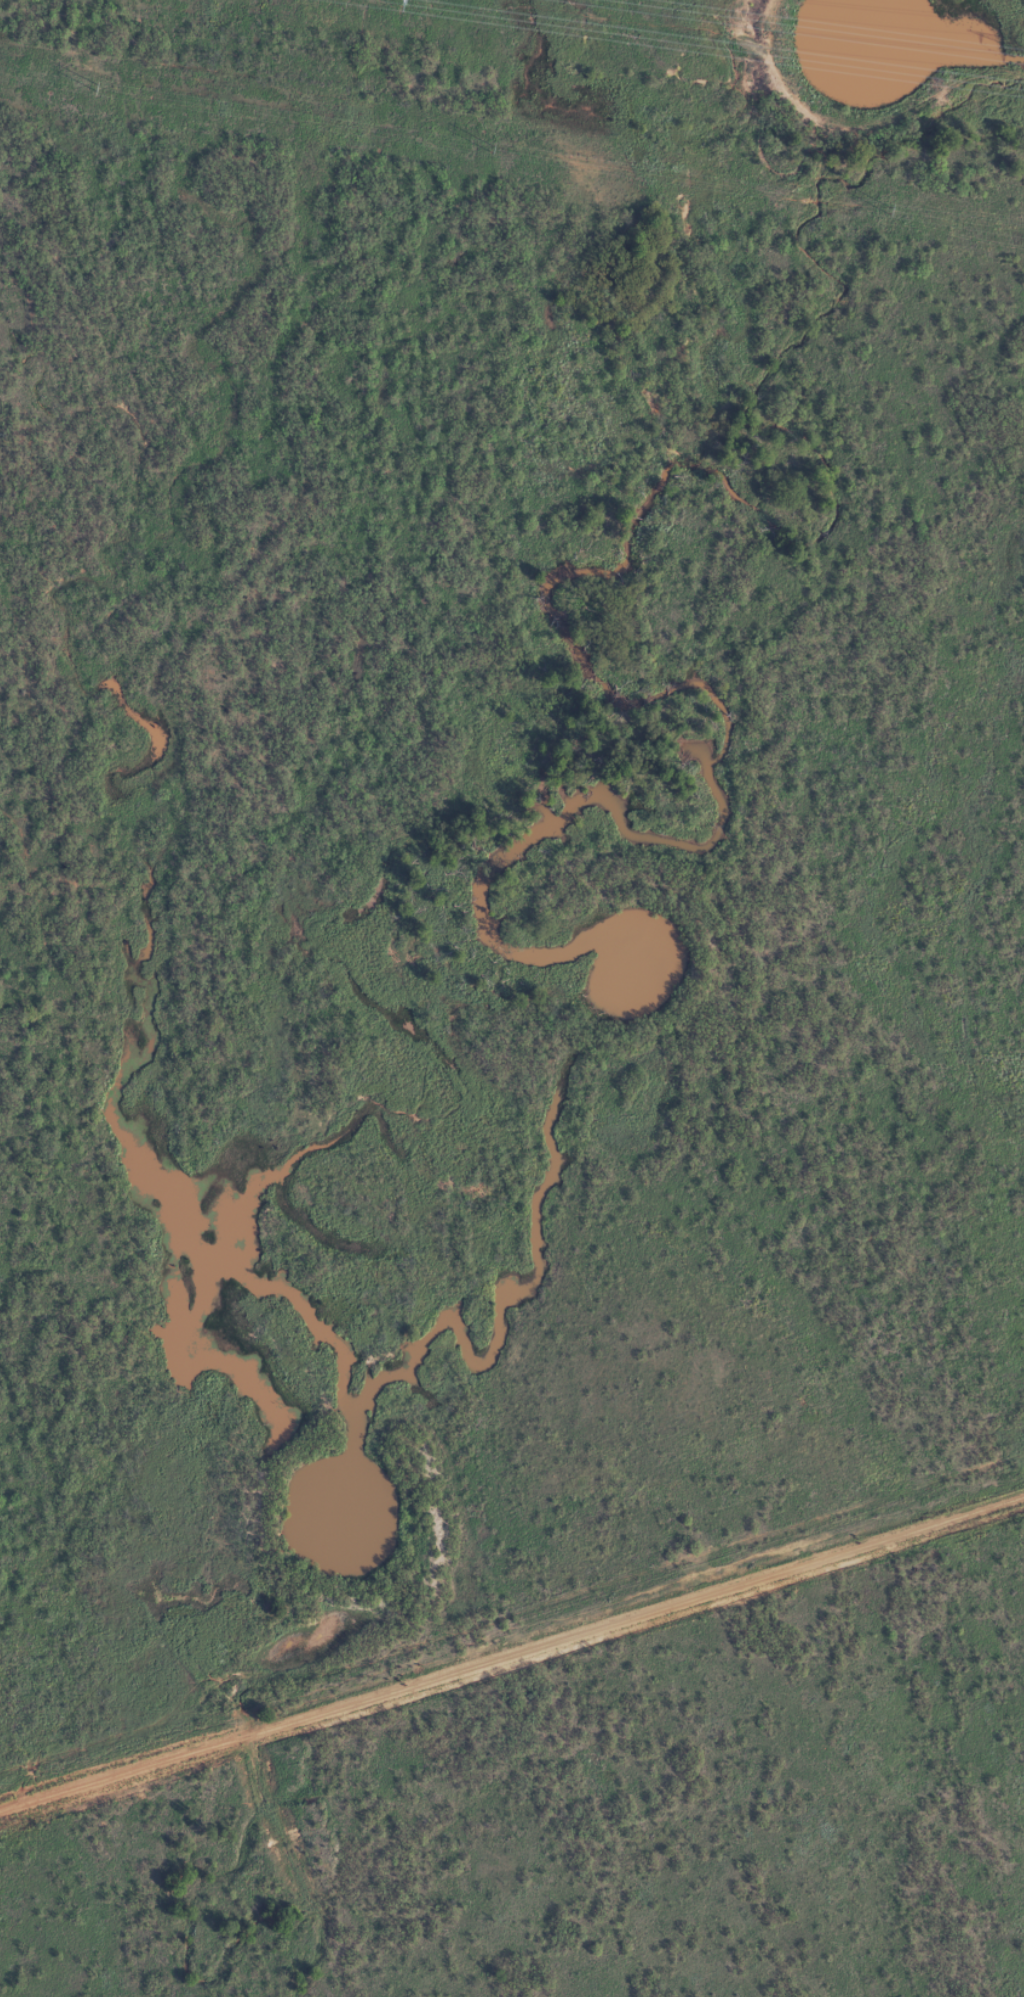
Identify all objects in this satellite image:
power tower: (87, 87)
power tower: (480, 148)
power tower: (881, 208)
road: (511, 1653)

